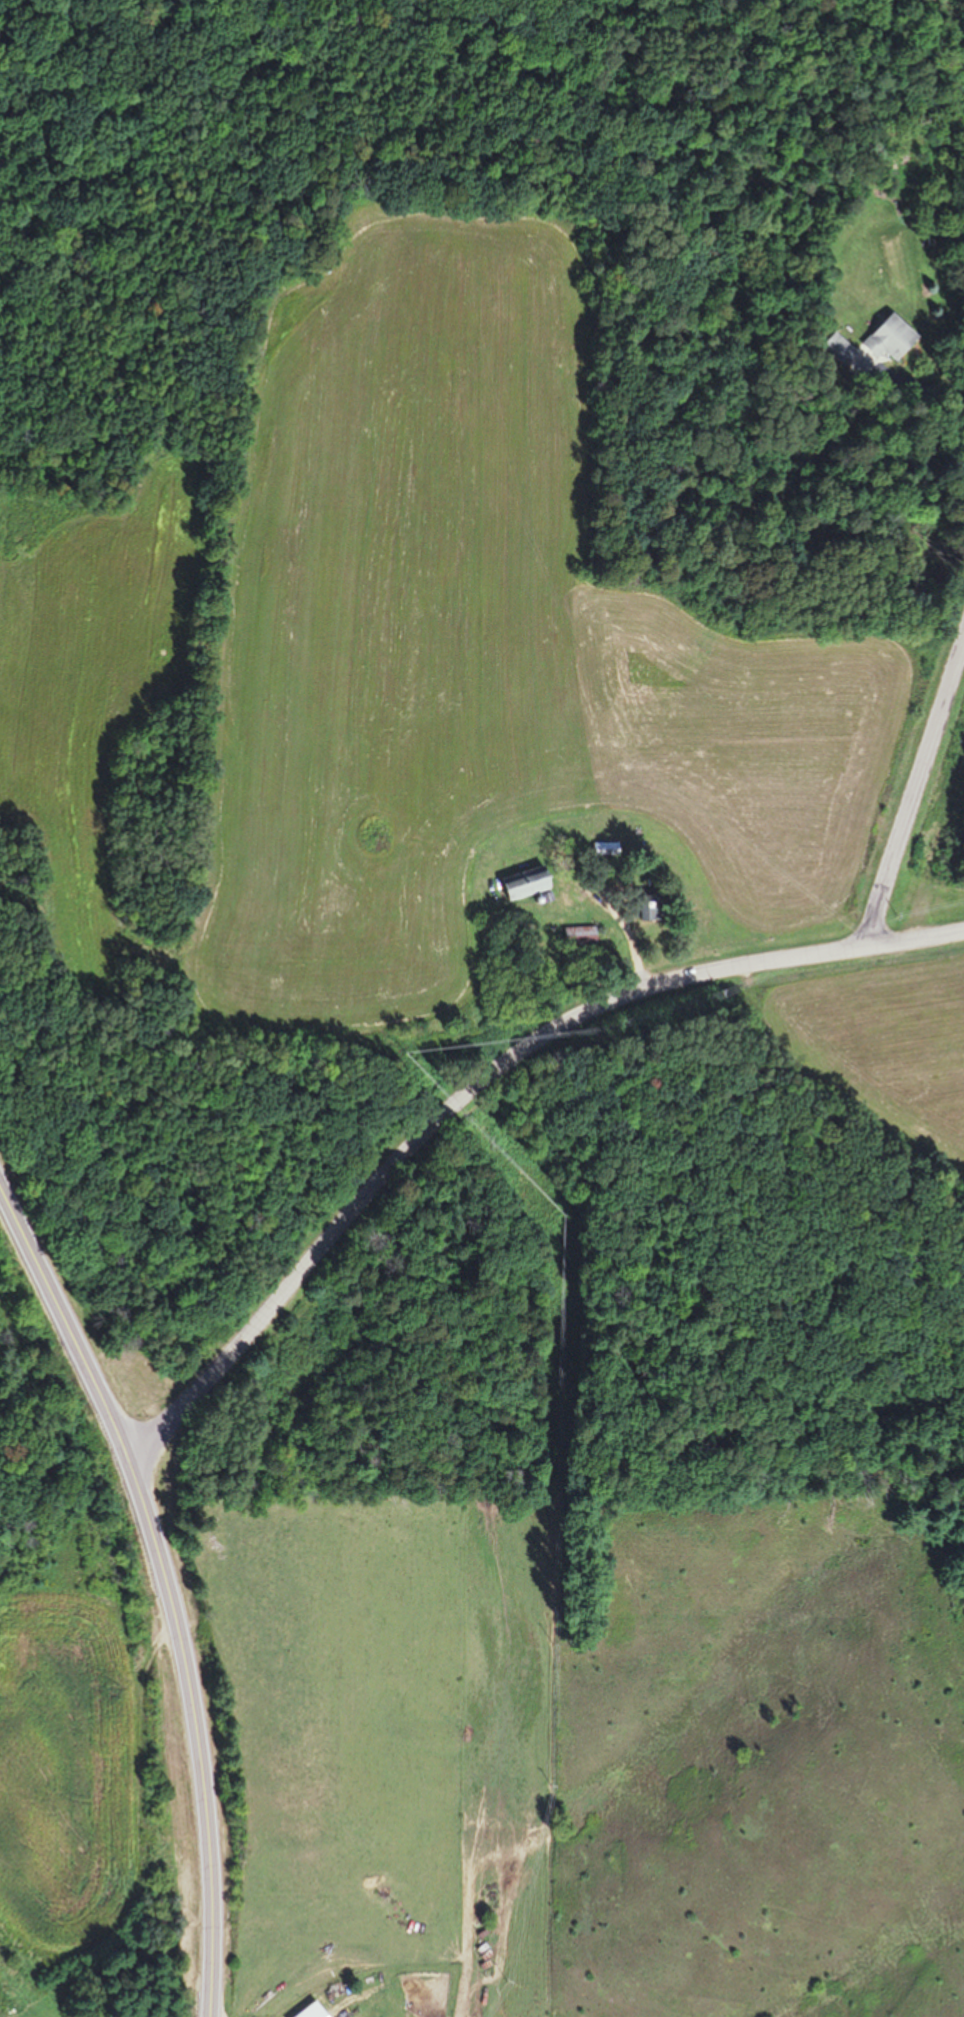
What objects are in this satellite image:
building: (890, 338)
crop: (403, 659)
road: (916, 796)
building: (603, 849)
building: (519, 883)
building: (581, 936)
crop: (862, 1047)
road: (480, 1085)
road: (168, 1586)
crop: (73, 1737)

